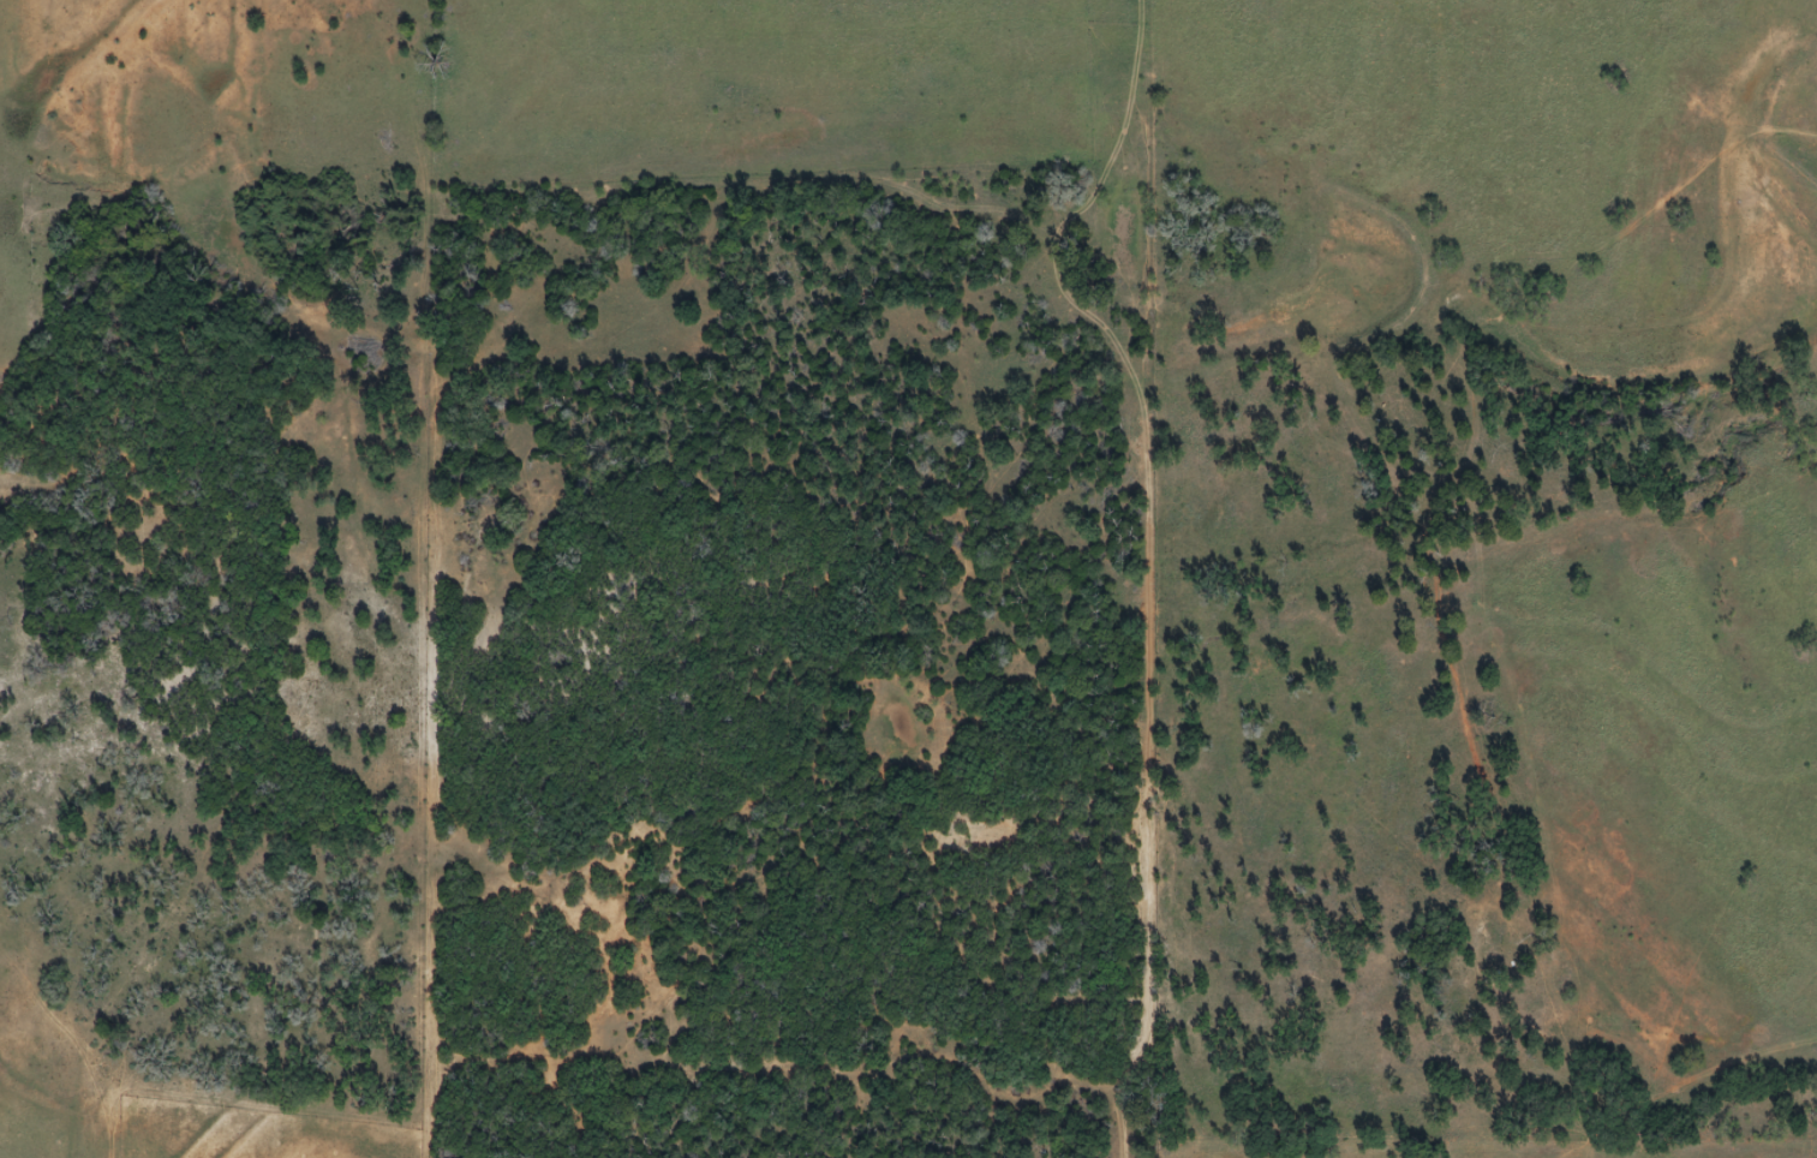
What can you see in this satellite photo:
road: (1140, 568)

